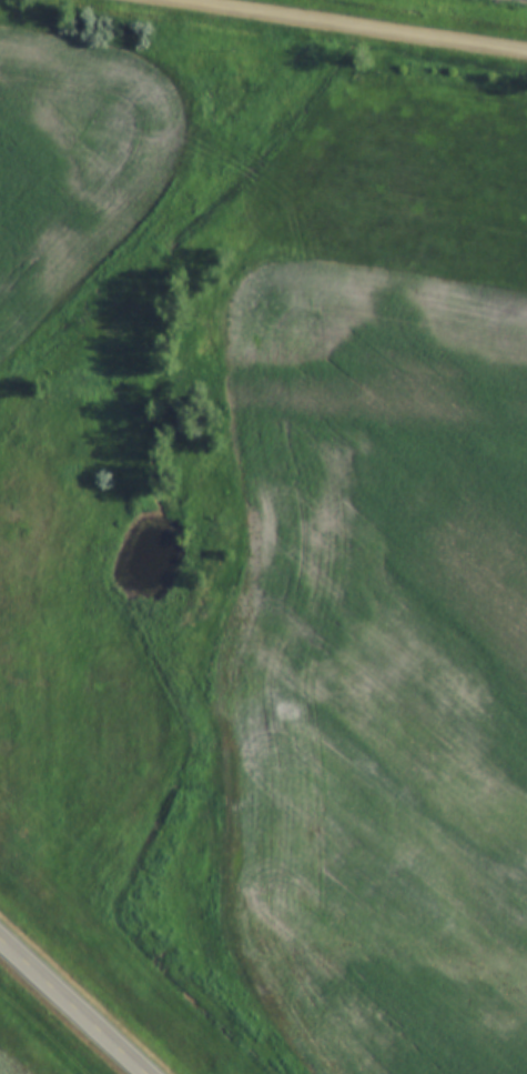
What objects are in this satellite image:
road: (343, 27)
road: (74, 1004)

